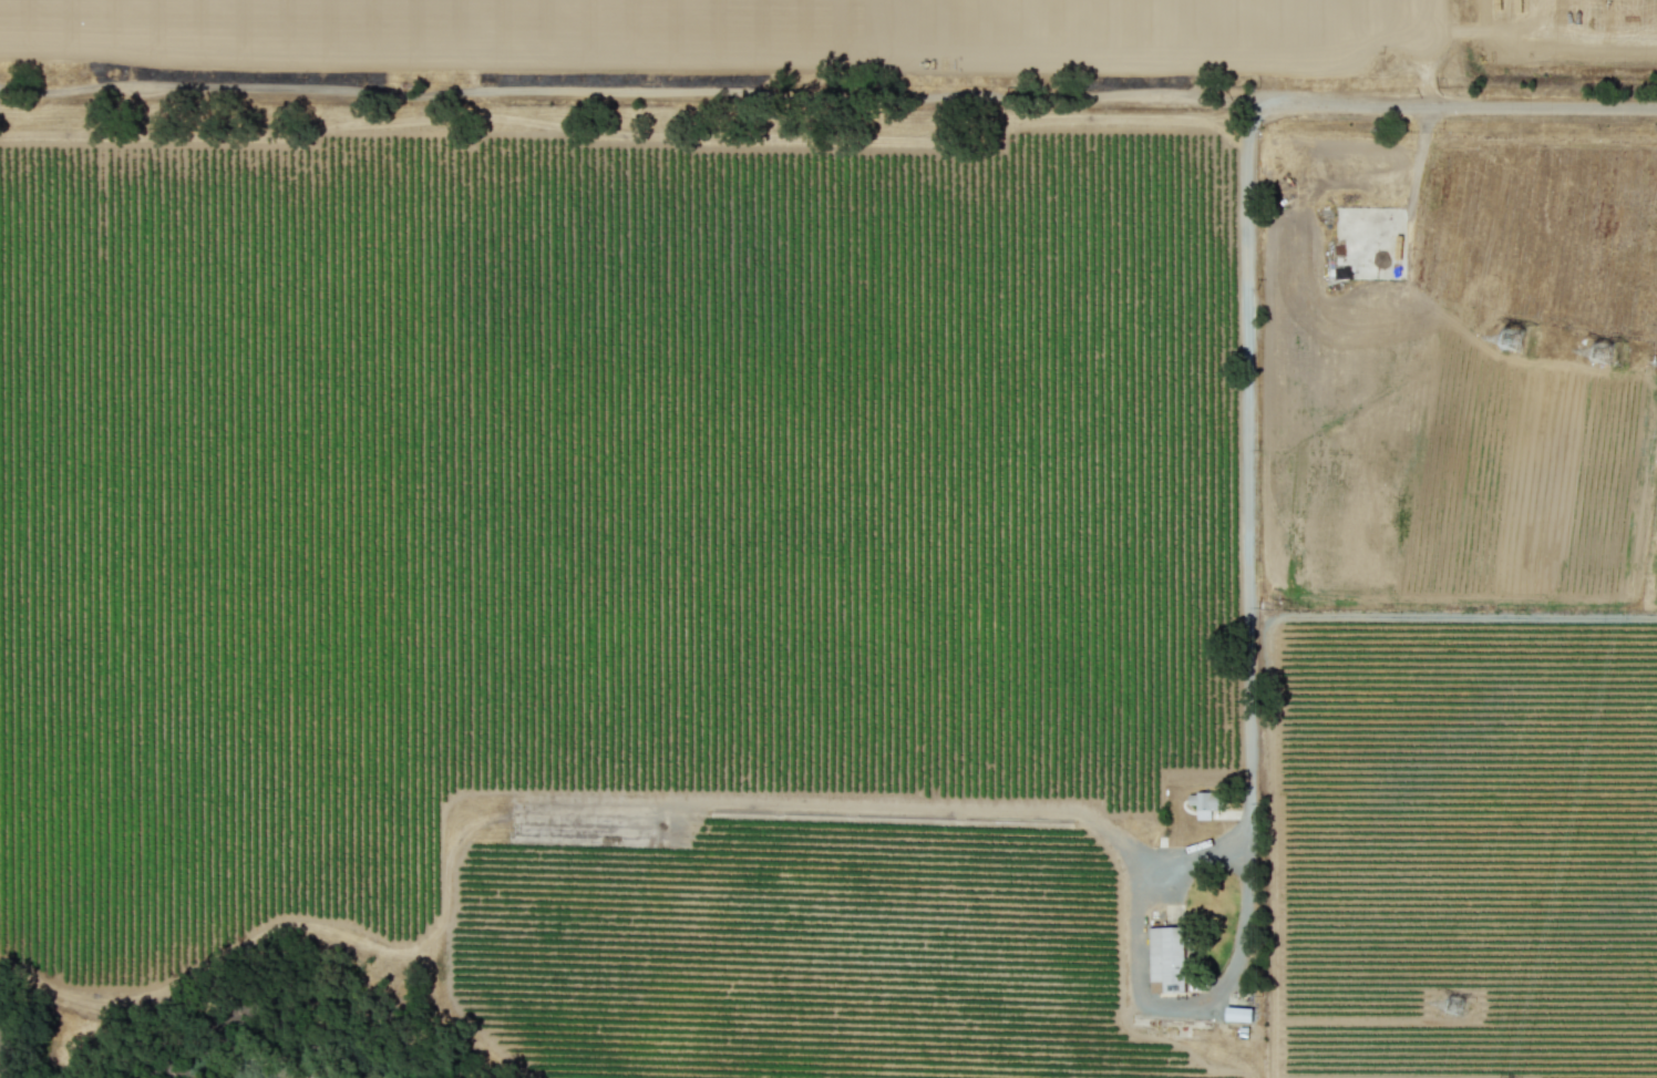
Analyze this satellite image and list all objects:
road: (1401, 104)
power tower: (1515, 340)
power tower: (1592, 351)
crop: (852, 519)
road: (1452, 615)
road: (1247, 710)
building: (1205, 802)
building: (1166, 958)
power tower: (1443, 1005)
building: (1238, 1013)

